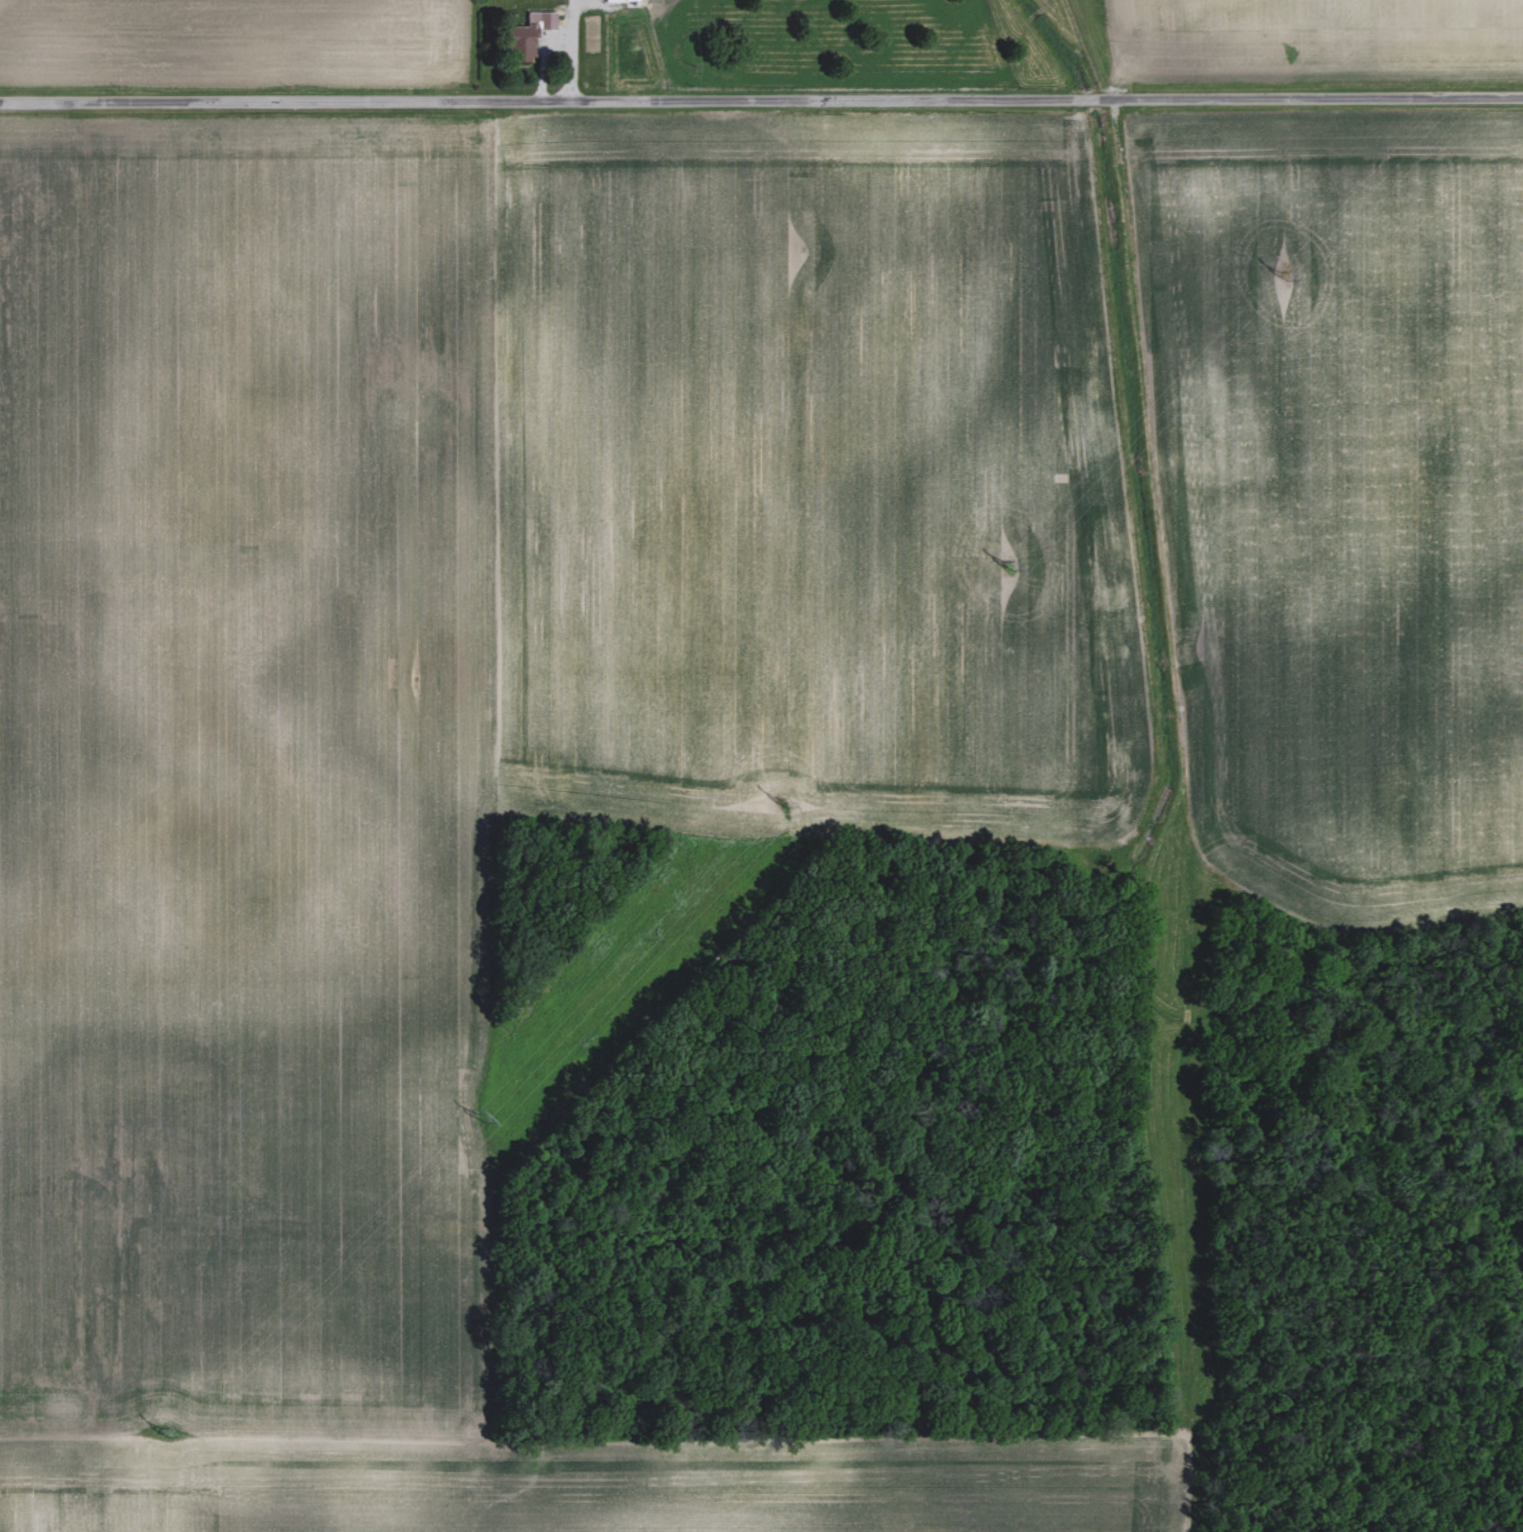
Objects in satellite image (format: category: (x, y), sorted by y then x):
building: (622, 0)
road: (572, 25)
building: (528, 34)
road: (558, 45)
road: (761, 102)
power tower: (1282, 276)
power tower: (1006, 565)
power tower: (780, 803)
power tower: (482, 1126)
power tower: (164, 1435)

